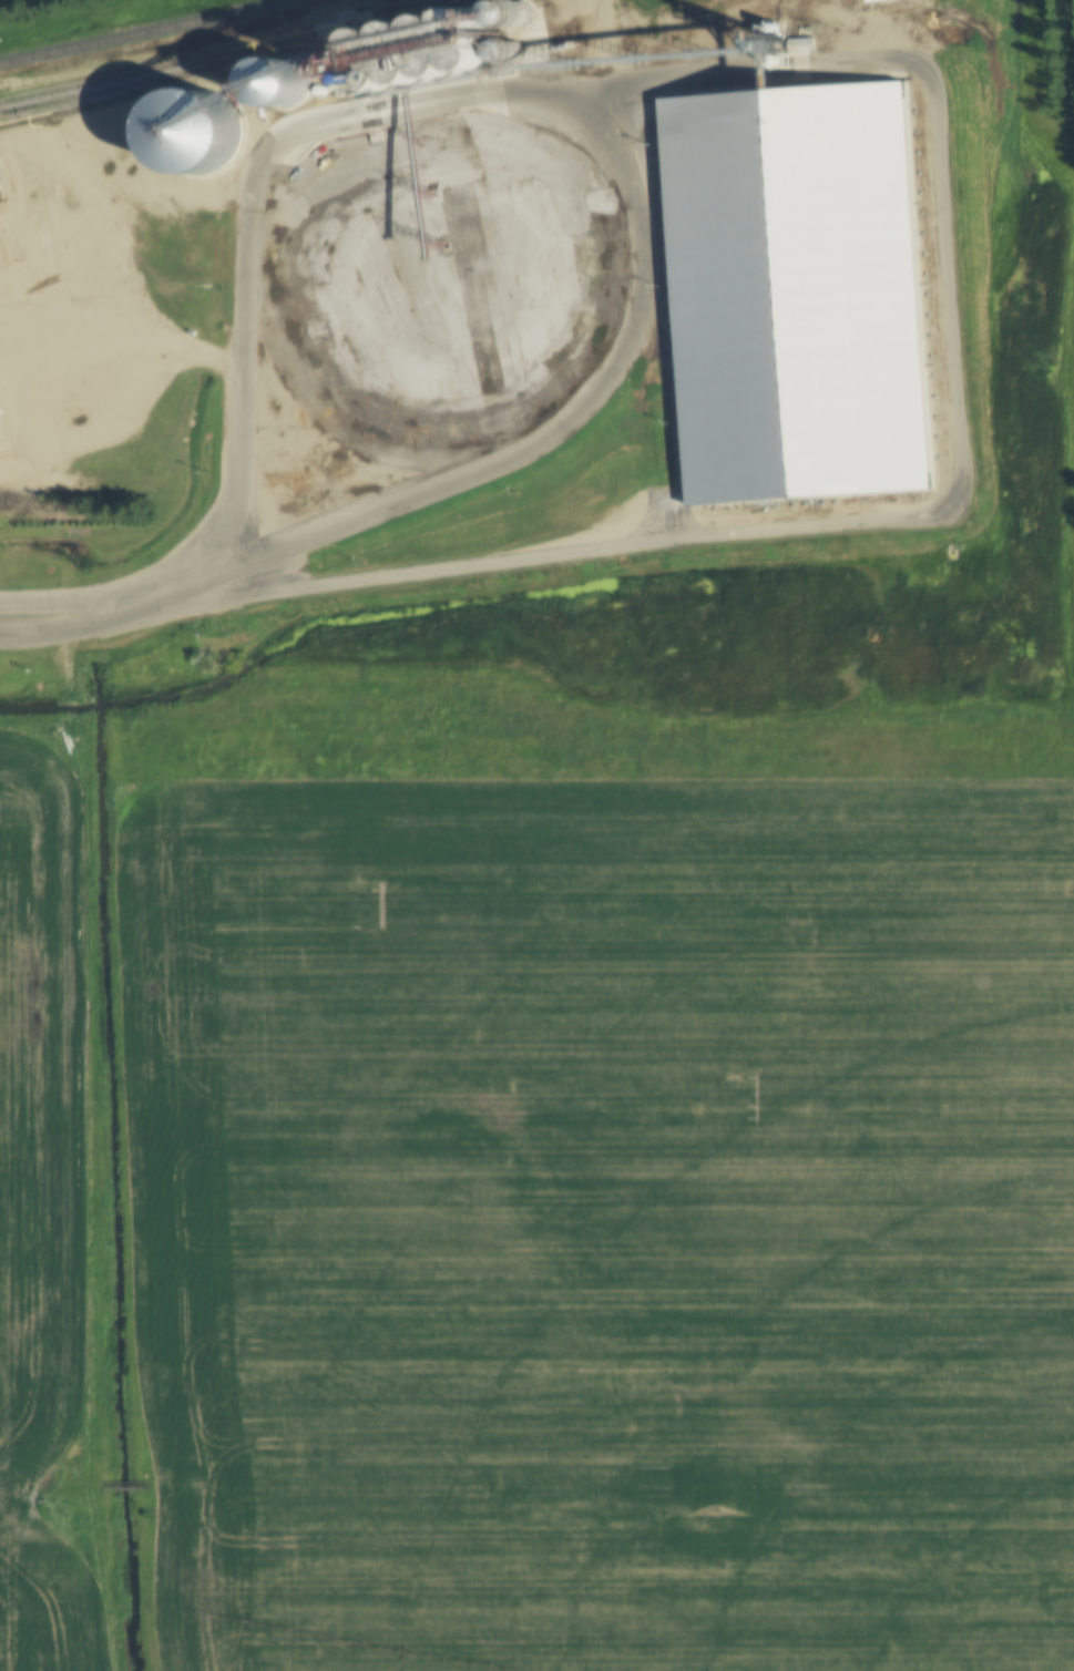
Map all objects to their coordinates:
railway: (125, 28)
building: (437, 53)
building: (277, 84)
road: (589, 127)
building: (196, 132)
building: (798, 296)
road: (345, 430)
road: (950, 498)
road: (88, 608)
road: (92, 636)

